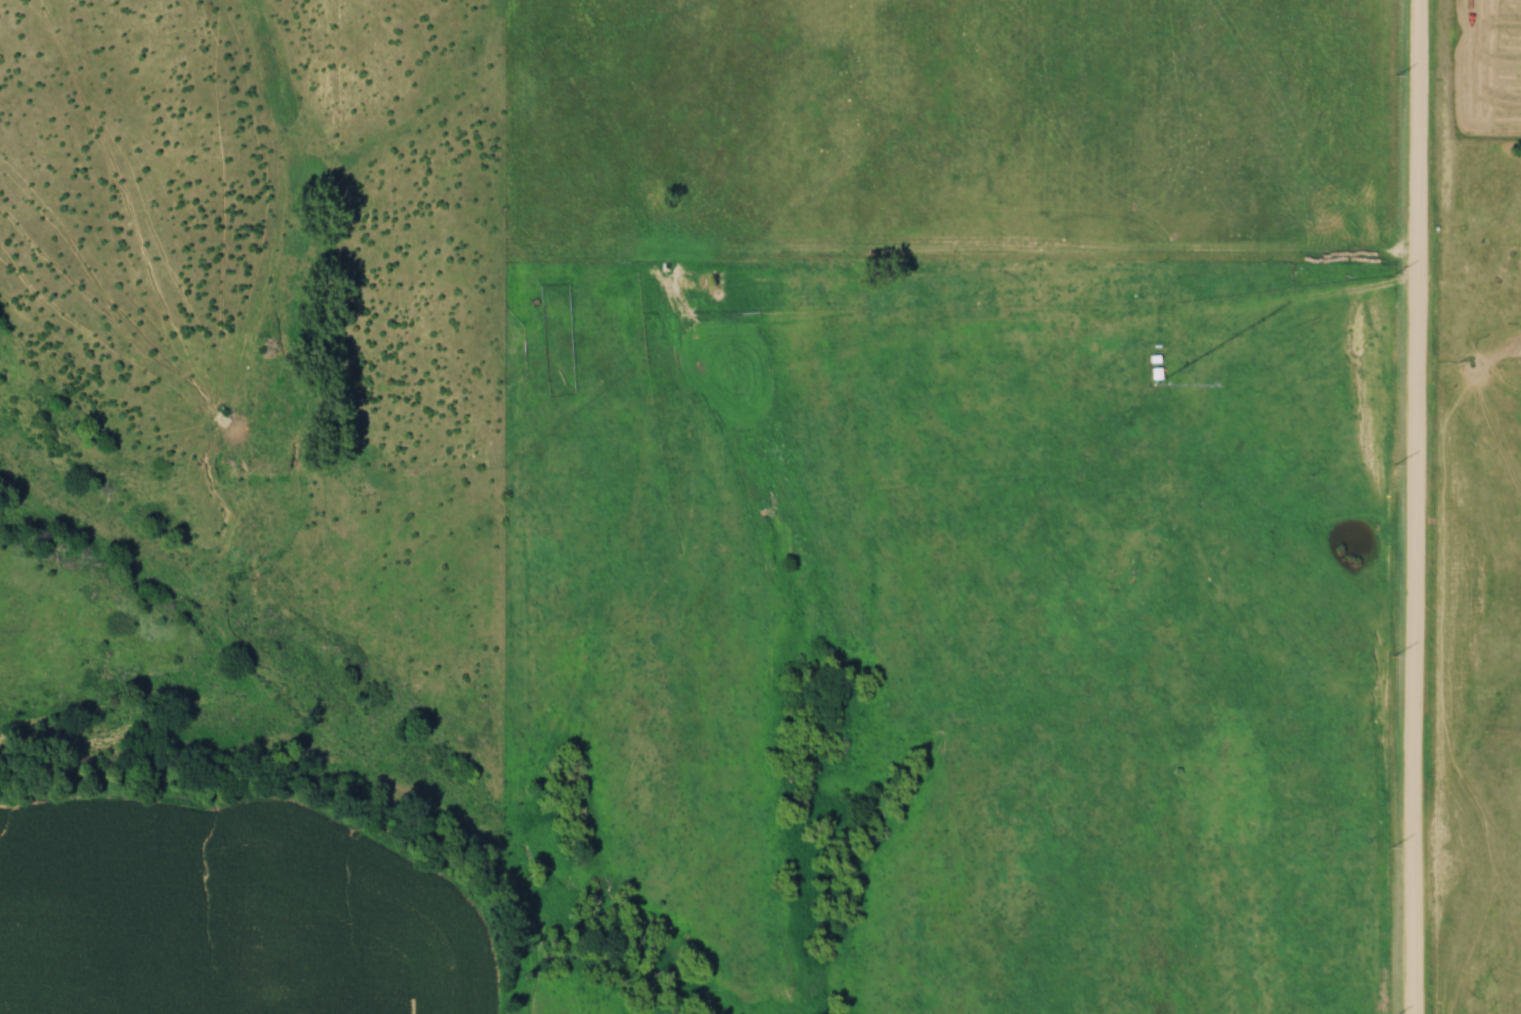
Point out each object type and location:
building: (1155, 373)
road: (1414, 506)

